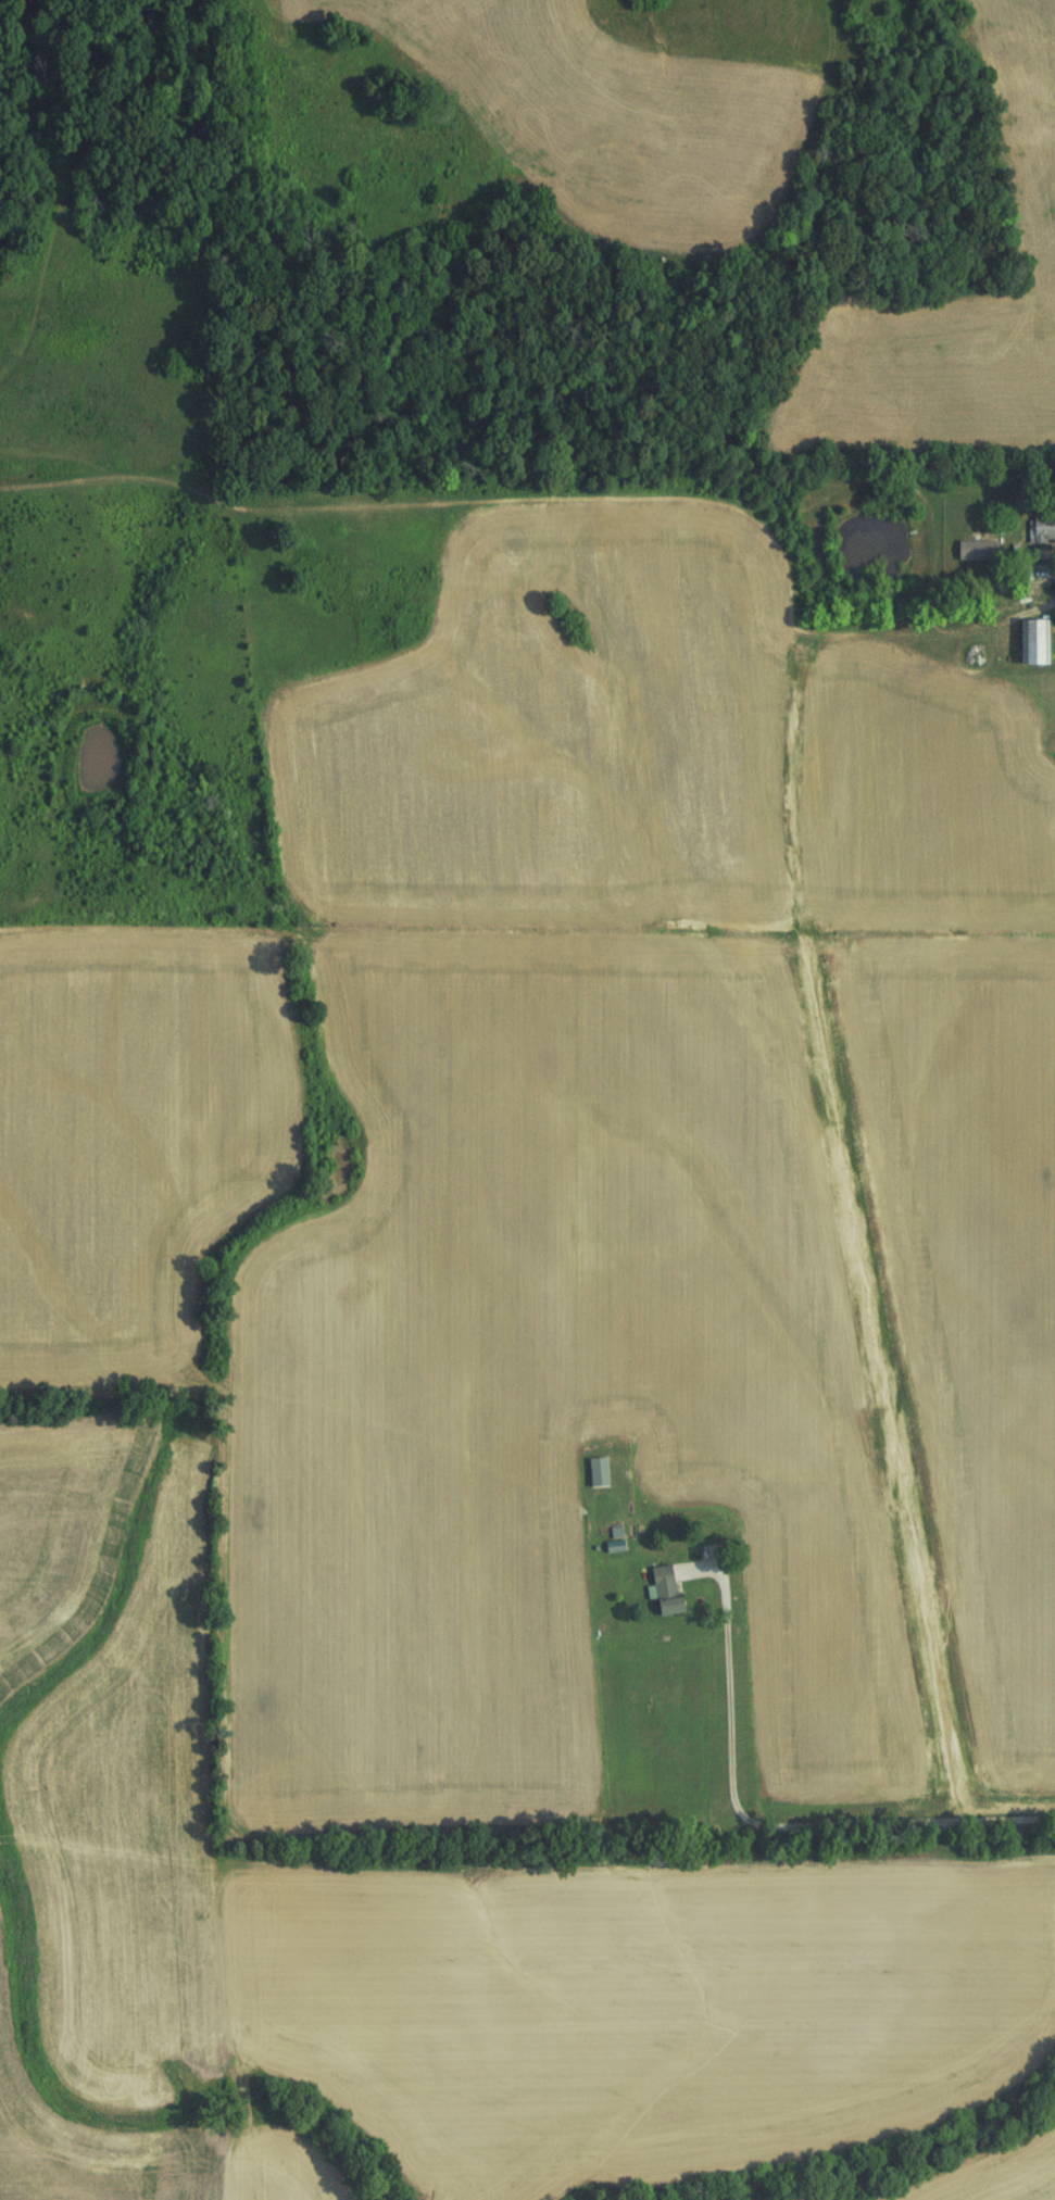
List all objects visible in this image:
building: (1039, 529)
building: (970, 550)
road: (1028, 564)
building: (1026, 641)
building: (591, 1472)
building: (658, 1591)
road: (762, 1820)

